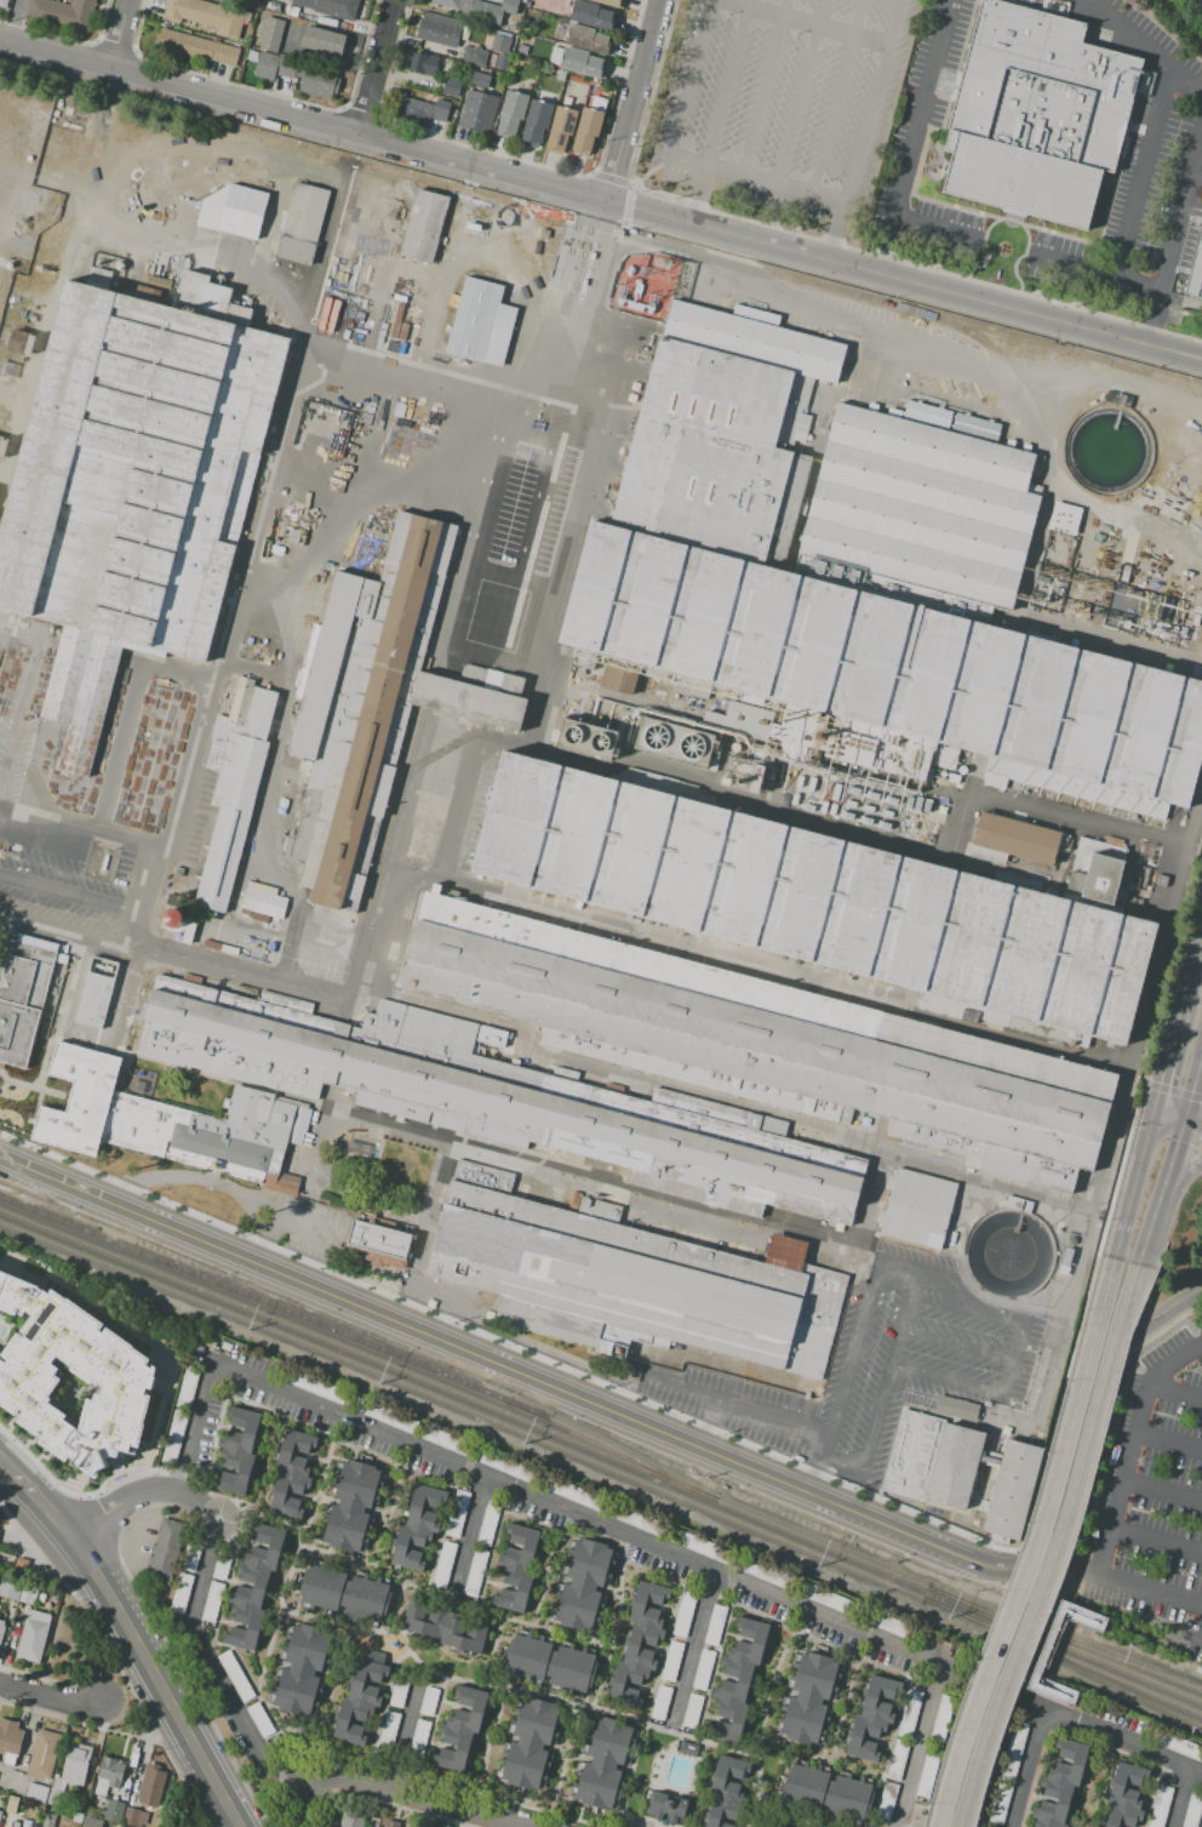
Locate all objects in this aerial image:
building: (607, 2)
building: (2, 4)
building: (274, 6)
building: (333, 7)
building: (481, 8)
building: (63, 15)
building: (593, 15)
building: (207, 16)
building: (328, 22)
road: (802, 24)
building: (439, 29)
road: (116, 34)
building: (271, 35)
building: (584, 38)
building: (322, 41)
building: (499, 44)
building: (199, 46)
road: (1144, 48)
building: (522, 50)
building: (473, 56)
building: (576, 61)
building: (502, 62)
building: (422, 63)
road: (373, 67)
building: (298, 74)
building: (561, 74)
building: (477, 80)
road: (729, 82)
road: (178, 87)
building: (452, 87)
road: (767, 89)
road: (803, 92)
road: (688, 96)
road: (838, 97)
road: (634, 101)
road: (874, 102)
building: (441, 109)
building: (414, 110)
building: (477, 112)
building: (513, 113)
building: (1036, 114)
building: (536, 121)
building: (561, 127)
building: (586, 130)
road: (916, 136)
road: (1141, 175)
road: (1196, 177)
railway: (221, 178)
road: (641, 182)
road: (778, 184)
road: (702, 195)
railway: (90, 205)
building: (234, 211)
building: (302, 223)
railway: (497, 224)
building: (424, 225)
road: (838, 232)
road: (935, 232)
road: (1174, 240)
road: (574, 246)
road: (779, 246)
road: (586, 247)
road: (601, 253)
railway: (711, 257)
building: (1195, 273)
road: (1095, 274)
power substation: (651, 282)
railway: (430, 306)
building: (482, 324)
road: (871, 329)
building: (17, 341)
railway: (539, 378)
road: (557, 387)
railway: (1164, 388)
railway: (431, 390)
building: (974, 426)
railway: (22, 429)
railway: (1049, 441)
building: (4, 445)
railway: (606, 455)
building: (133, 484)
road: (549, 514)
building: (1064, 518)
railway: (584, 524)
railway: (465, 530)
building: (491, 571)
building: (853, 571)
railway: (309, 620)
railway: (8, 646)
building: (620, 676)
railway: (998, 693)
road: (25, 700)
road: (210, 701)
building: (373, 703)
building: (740, 719)
building: (585, 738)
building: (235, 783)
railway: (960, 810)
road: (451, 828)
road: (84, 840)
building: (1100, 860)
road: (75, 895)
building: (813, 898)
building: (271, 902)
building: (172, 919)
railway: (927, 927)
road: (273, 934)
railway: (1135, 957)
road: (1194, 969)
building: (97, 993)
building: (21, 997)
railway: (1144, 997)
road: (321, 999)
railway: (905, 1004)
building: (766, 1041)
road: (1170, 1051)
railway: (891, 1067)
road: (1194, 1079)
building: (500, 1097)
building: (79, 1098)
traffic signals: (1156, 1107)
road: (1169, 1109)
traffic signals: (1184, 1113)
road: (1192, 1115)
building: (214, 1134)
road: (317, 1143)
road: (1172, 1149)
road: (1179, 1171)
railway: (871, 1174)
railway: (24, 1177)
road: (605, 1181)
road: (1134, 1182)
road: (227, 1189)
building: (917, 1209)
road: (428, 1210)
road: (305, 1215)
road: (1149, 1226)
road: (268, 1240)
building: (1038, 1241)
building: (380, 1245)
road: (900, 1269)
building: (630, 1279)
road: (980, 1323)
railway: (361, 1341)
road: (141, 1349)
road: (945, 1361)
road: (1177, 1365)
road: (527, 1372)
road: (848, 1375)
building: (115, 1376)
building: (314, 1387)
building: (188, 1388)
road: (1178, 1389)
road: (1093, 1398)
railway: (474, 1400)
road: (722, 1400)
railway: (471, 1411)
road: (714, 1423)
building: (411, 1426)
road: (875, 1427)
building: (174, 1437)
road: (1170, 1443)
building: (239, 1450)
road: (267, 1451)
building: (960, 1463)
road: (1057, 1466)
road: (322, 1471)
building: (291, 1472)
road: (823, 1475)
road: (1076, 1477)
road: (1127, 1480)
road: (1164, 1491)
building: (568, 1492)
road: (142, 1494)
parking lot: (1152, 1496)
building: (351, 1505)
road: (390, 1505)
building: (457, 1513)
building: (487, 1526)
building: (417, 1528)
road: (468, 1534)
road: (645, 1541)
road: (1157, 1542)
building: (703, 1547)
building: (167, 1552)
street lamp: (1116, 1555)
building: (190, 1558)
building: (223, 1563)
building: (443, 1564)
building: (22, 1565)
building: (519, 1566)
road: (550, 1568)
building: (763, 1572)
road: (228, 1574)
building: (475, 1574)
street lamp: (1186, 1574)
road: (1123, 1583)
building: (583, 1585)
building: (253, 1586)
road: (1066, 1591)
building: (18, 1592)
building: (345, 1592)
road: (452, 1592)
building: (182, 1593)
building: (55, 1597)
building: (829, 1599)
building: (212, 1602)
road: (393, 1612)
building: (685, 1612)
building: (1080, 1615)
road: (1101, 1617)
road: (612, 1621)
building: (883, 1623)
building: (715, 1625)
building: (446, 1626)
building: (1, 1628)
building: (16, 1631)
building: (642, 1634)
road: (131, 1635)
building: (34, 1637)
road: (1046, 1640)
building: (929, 1643)
railway: (1074, 1643)
road: (691, 1648)
road: (498, 1649)
railway: (1074, 1649)
road: (237, 1655)
building: (671, 1661)
railway: (1071, 1661)
road: (114, 1662)
building: (550, 1663)
road: (217, 1666)
railway: (1071, 1667)
building: (302, 1668)
building: (703, 1669)
road: (436, 1673)
building: (235, 1675)
road: (35, 1677)
building: (738, 1677)
road: (419, 1678)
road: (1024, 1679)
road: (258, 1689)
building: (1051, 1690)
building: (397, 1692)
road: (53, 1698)
building: (808, 1698)
road: (849, 1698)
road: (1066, 1698)
building: (360, 1700)
building: (429, 1701)
building: (662, 1701)
road: (768, 1705)
road: (326, 1707)
building: (692, 1711)
road: (133, 1712)
building: (909, 1713)
road: (51, 1715)
building: (259, 1719)
building: (871, 1719)
building: (389, 1728)
building: (462, 1730)
road: (119, 1734)
building: (419, 1735)
building: (10, 1740)
road: (400, 1740)
road: (488, 1745)
building: (530, 1745)
road: (917, 1746)
road: (956, 1746)
building: (1013, 1749)
road: (939, 1751)
building: (42, 1754)
road: (978, 1755)
building: (898, 1758)
road: (988, 1760)
building: (75, 1764)
building: (603, 1764)
road: (846, 1765)
road: (567, 1766)
road: (1026, 1768)
road: (630, 1772)
building: (108, 1775)
road: (1098, 1782)
road: (699, 1783)
building: (1061, 1785)
building: (151, 1786)
building: (126, 1787)
building: (828, 1789)
building: (725, 1792)
building: (36, 1793)
building: (1126, 1795)
building: (56, 1797)
building: (887, 1797)
road: (420, 1798)
road: (1179, 1798)
building: (12, 1805)
building: (1158, 1806)
building: (668, 1808)
building: (114, 1811)
building: (1191, 1811)
road: (783, 1814)
building: (50, 1817)
building: (76, 1817)
building: (134, 1817)
building: (351, 1817)
building: (91, 1822)
building: (390, 1823)
building: (15, 1825)
building: (108, 1825)
building: (762, 1825)
building: (119, 1826)
building: (377, 1826)
building: (756, 1826)

